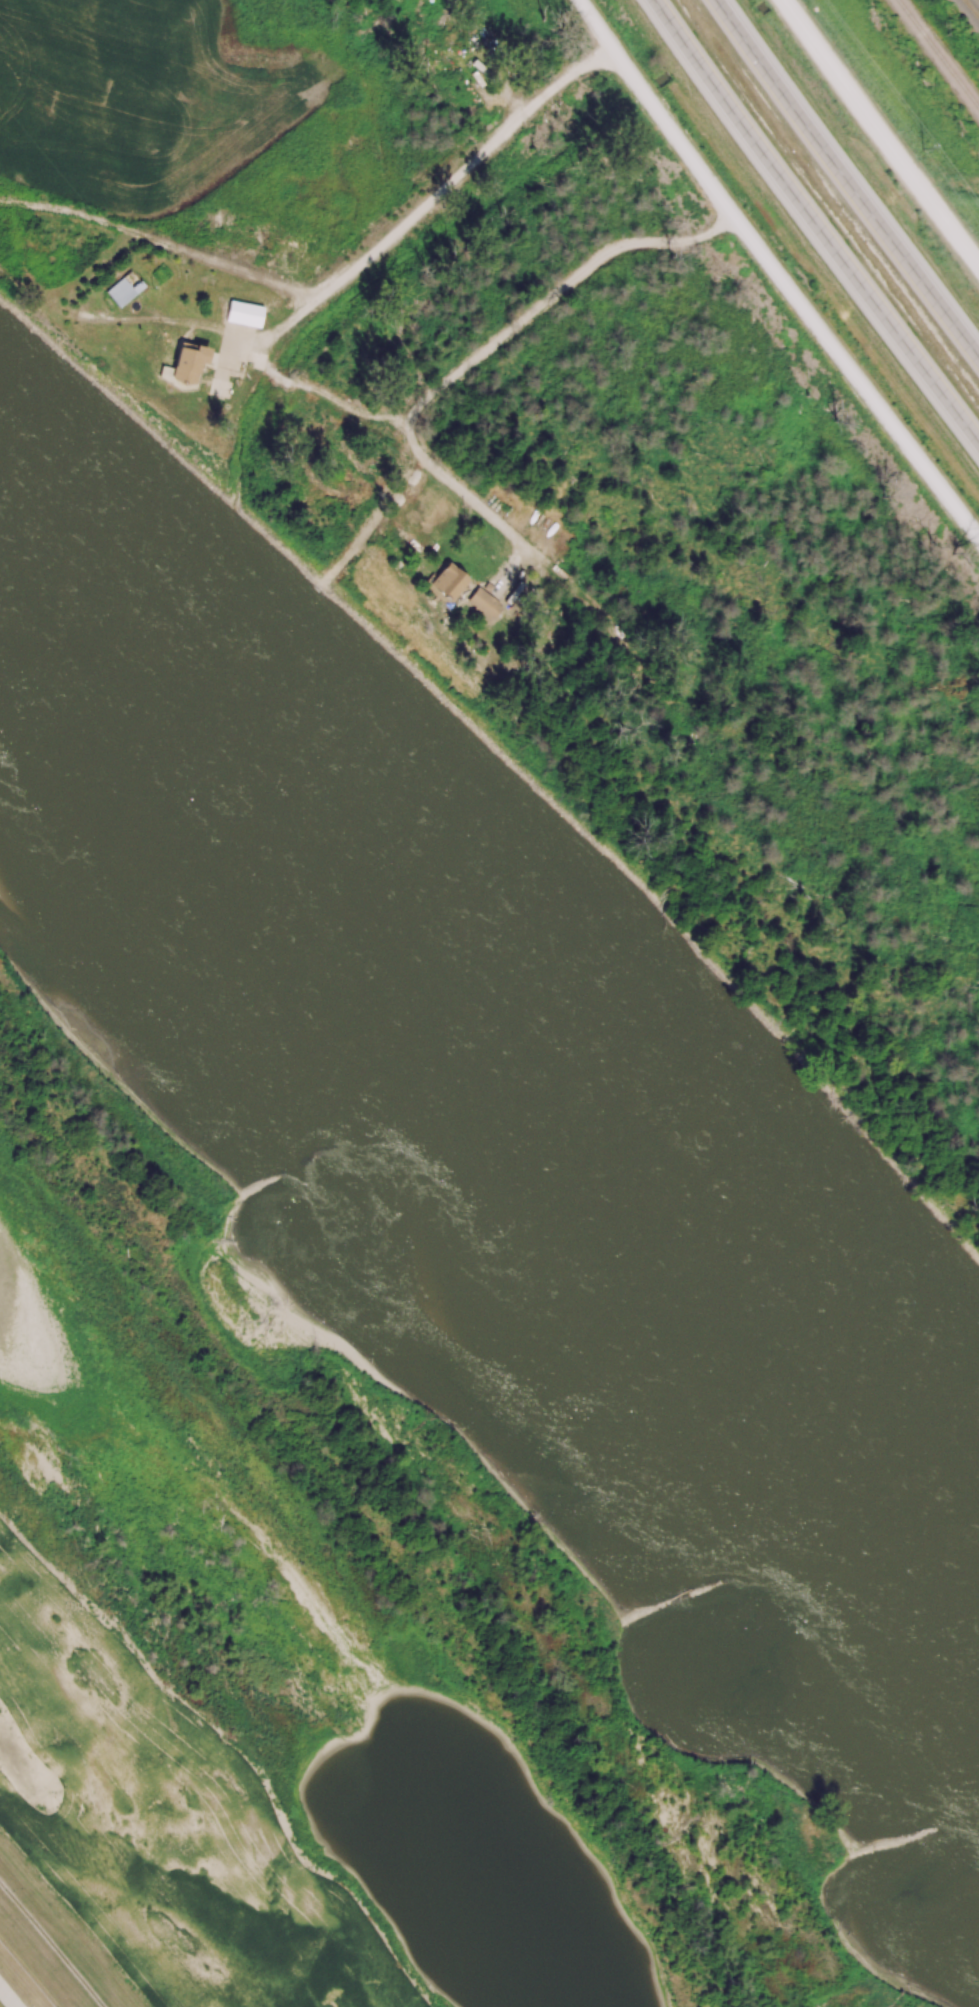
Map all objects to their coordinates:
railway: (973, 6)
railway: (938, 54)
road: (880, 133)
power tower: (921, 149)
road: (473, 164)
road: (846, 179)
road: (813, 224)
road: (775, 272)
building: (119, 291)
road: (328, 292)
building: (243, 314)
road: (261, 353)
building: (187, 362)
road: (469, 366)
road: (276, 375)
road: (345, 404)
building: (447, 581)
building: (483, 603)
river: (517, 1074)
airport: (18, 1984)
road: (7, 1997)

